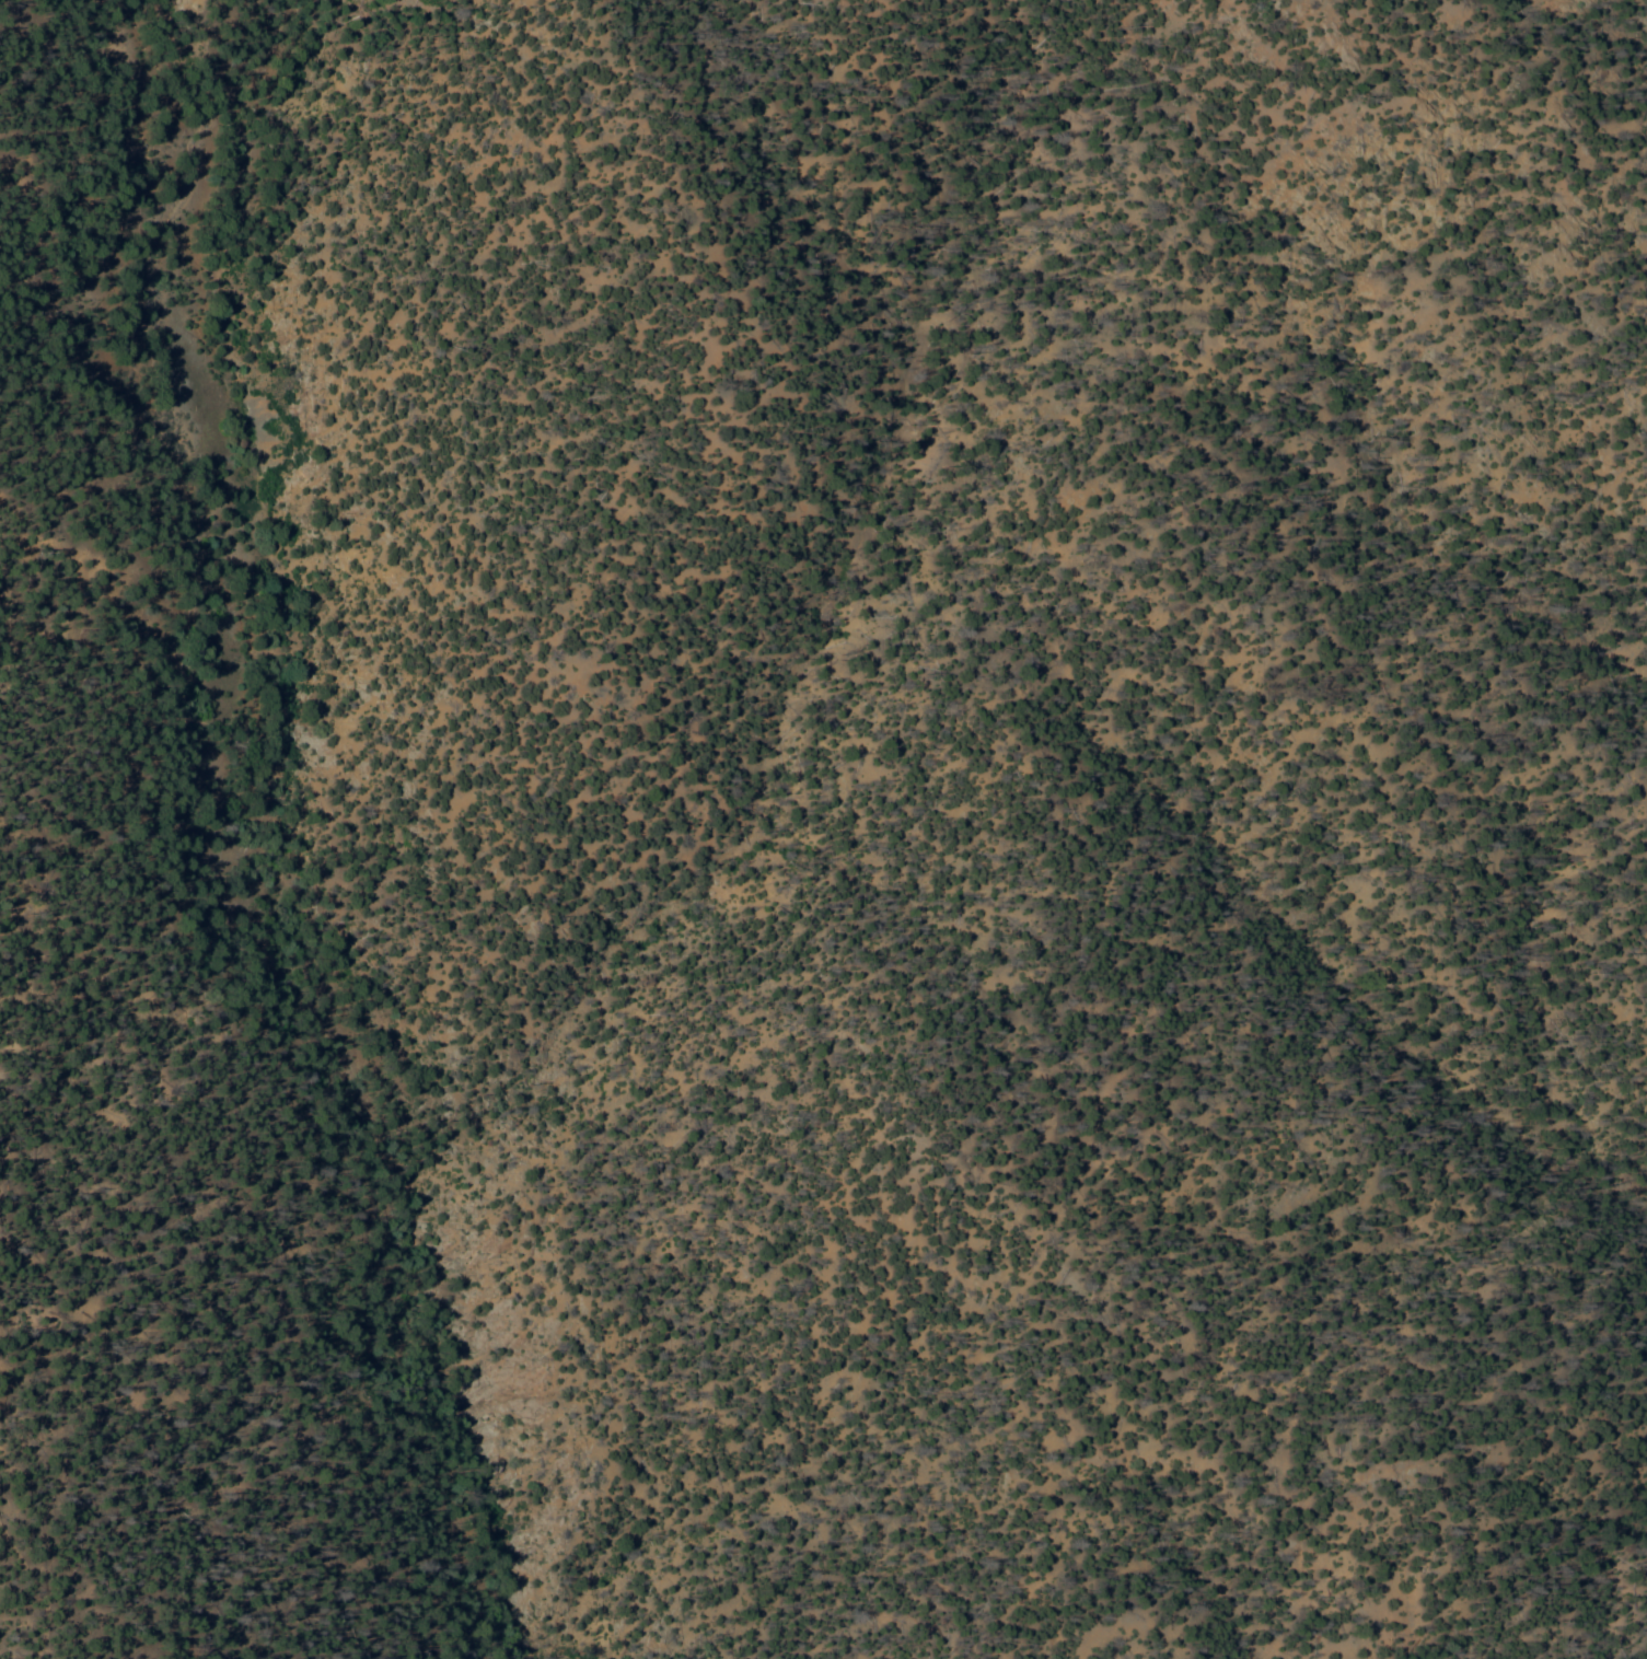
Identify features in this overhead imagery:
road: (0, 1658)

